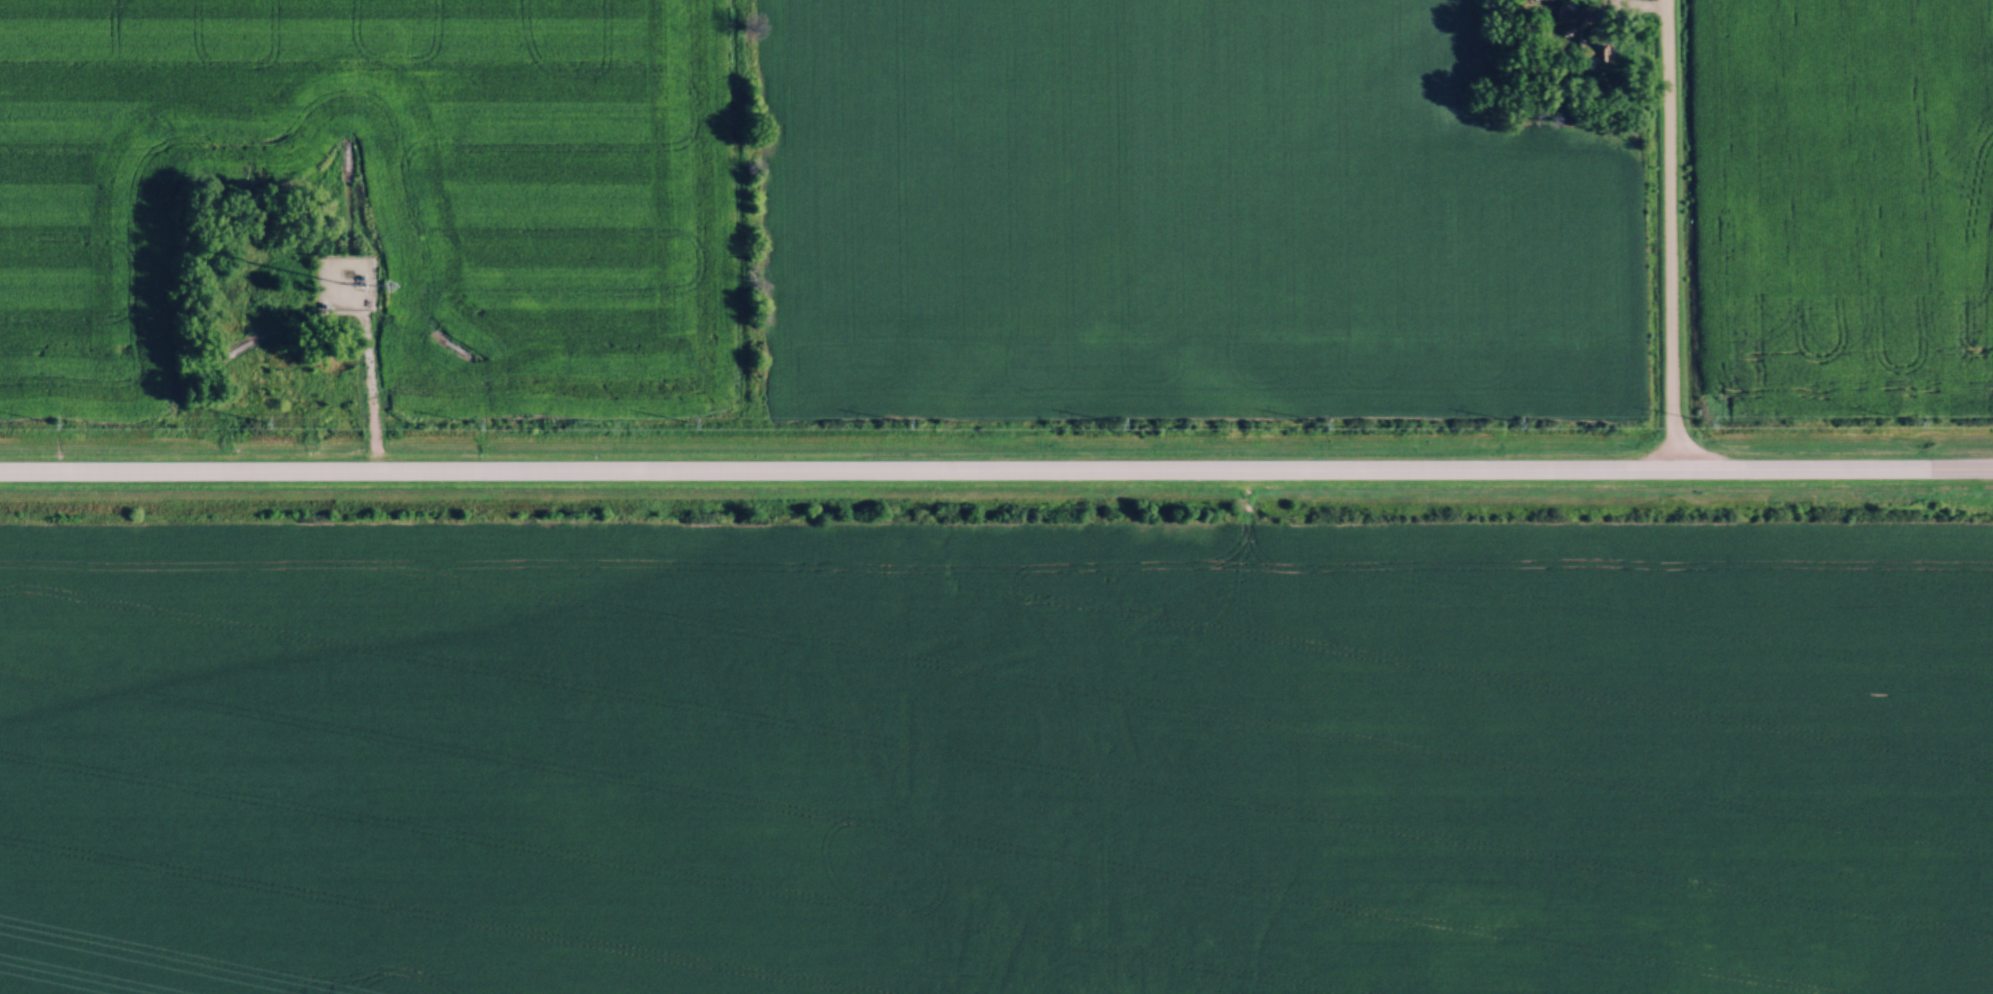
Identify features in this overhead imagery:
road: (1643, 5)
building: (1598, 57)
road: (1669, 234)
road: (369, 390)
power tower: (1910, 417)
power tower: (1701, 418)
power tower: (49, 419)
power tower: (258, 419)
power tower: (898, 419)
power tower: (1115, 419)
power tower: (1317, 419)
power tower: (1508, 419)
power tower: (473, 420)
power tower: (687, 420)
road: (996, 471)

